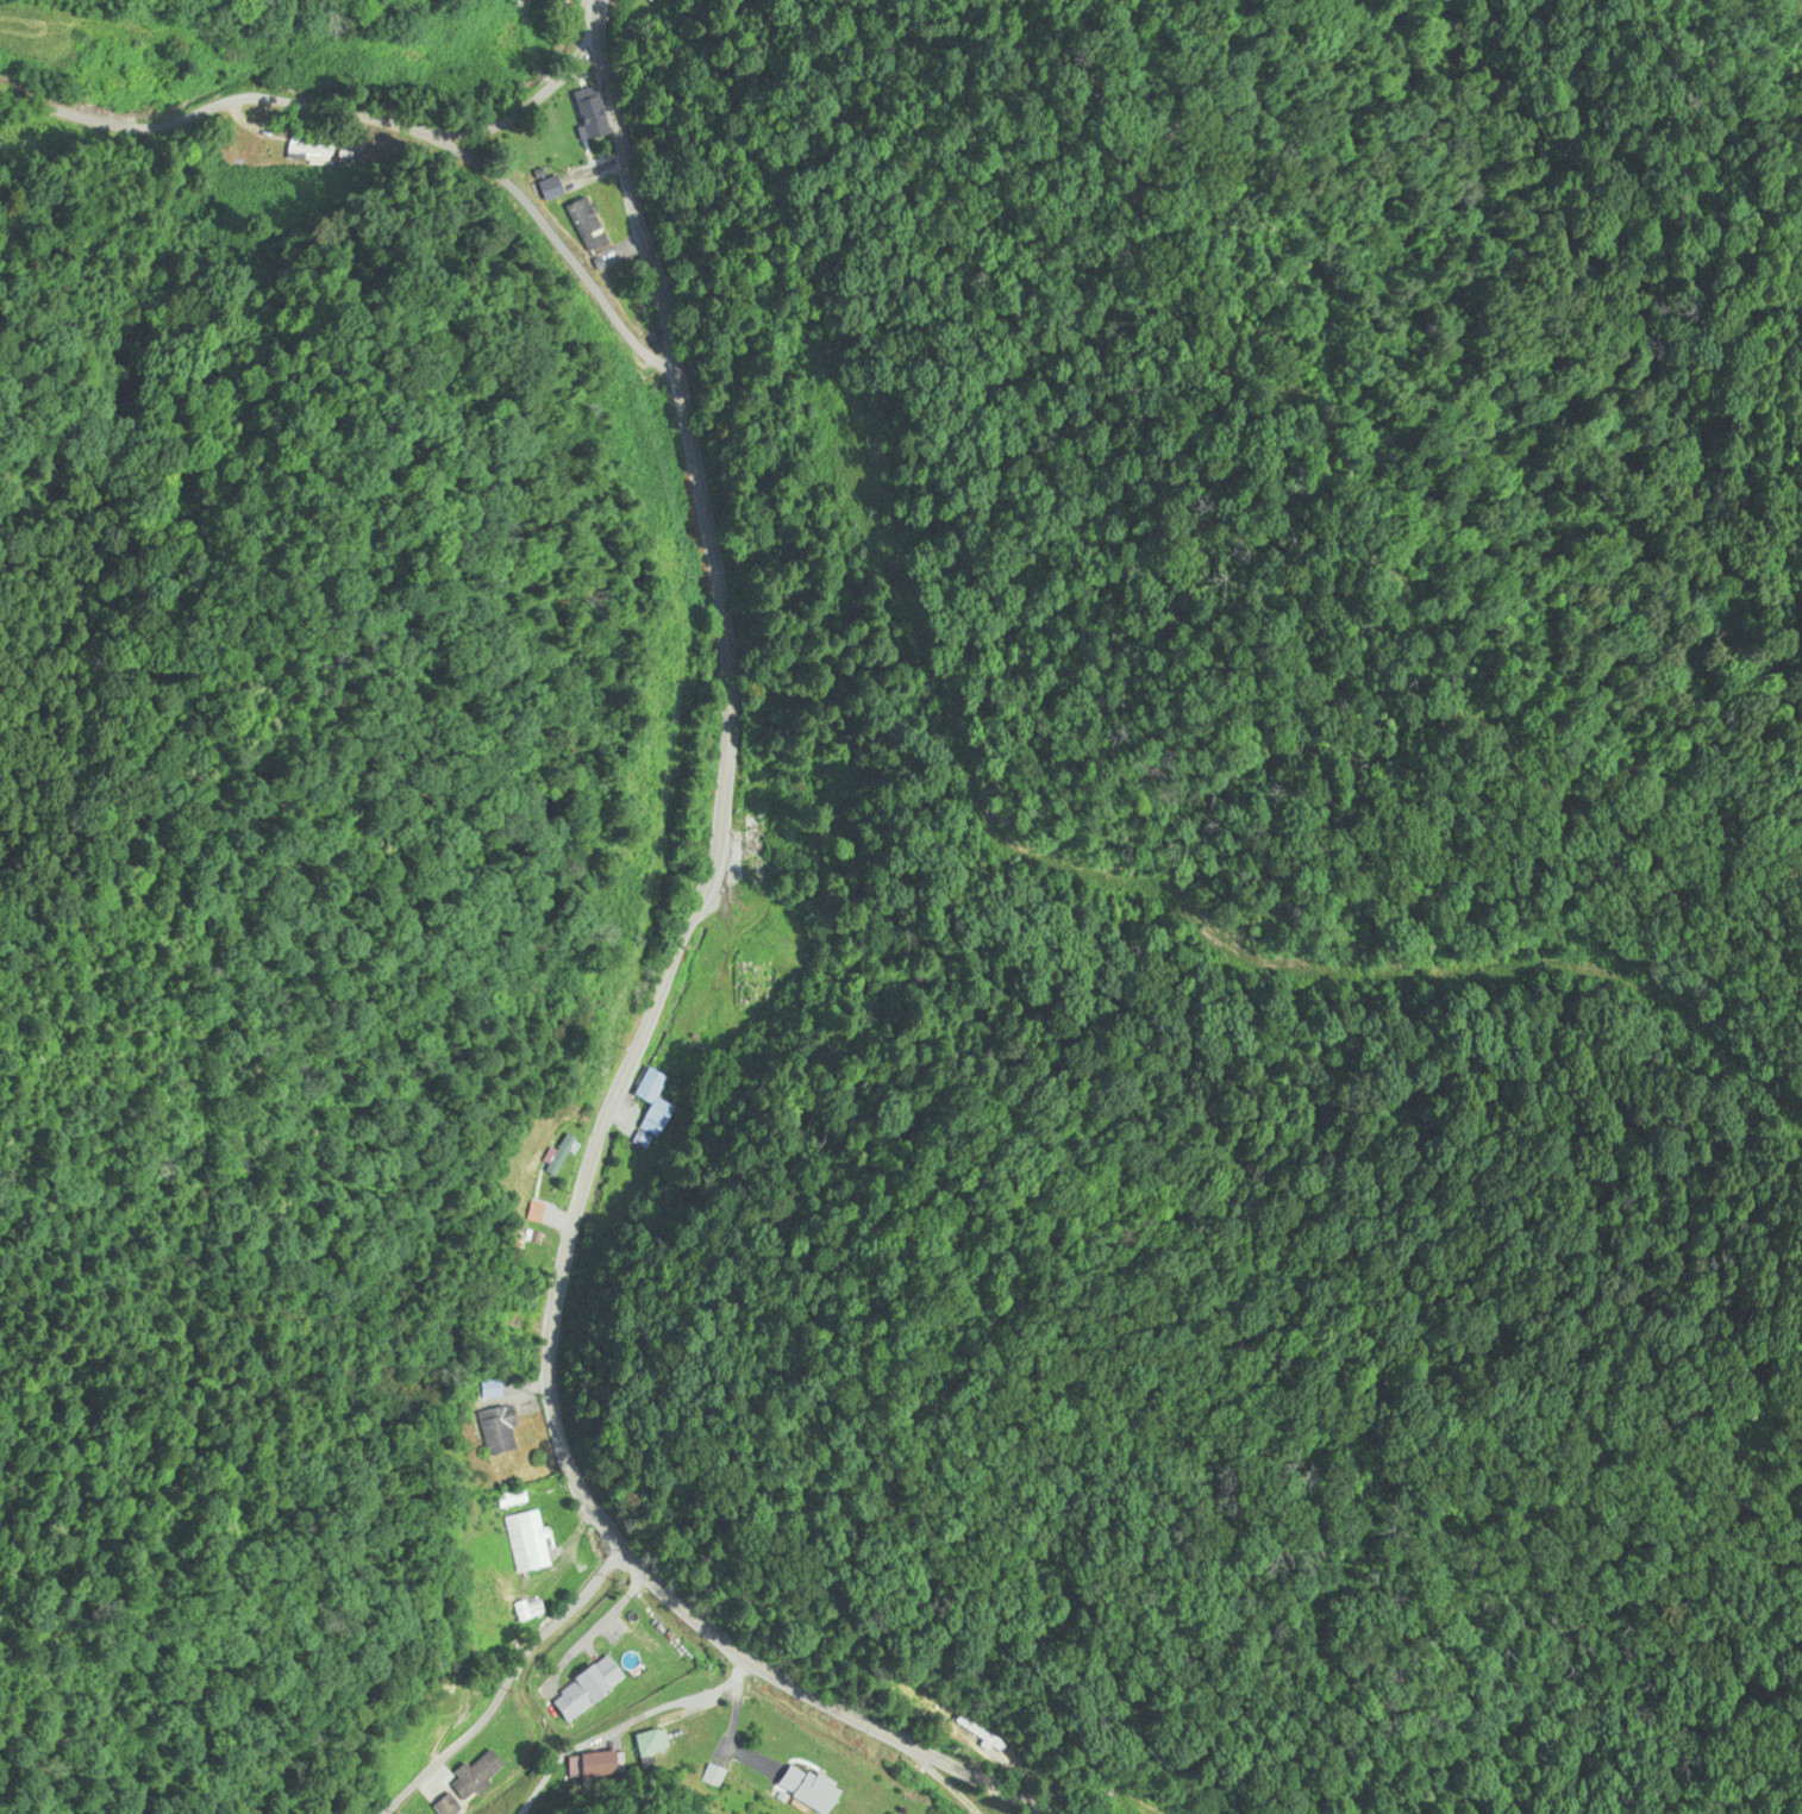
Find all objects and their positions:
building: (587, 113)
road: (305, 119)
building: (546, 189)
building: (582, 224)
road: (339, 620)
building: (767, 788)
building: (755, 865)
building: (755, 986)
road: (643, 1032)
building: (655, 1105)
building: (555, 1156)
building: (525, 1358)
building: (494, 1431)
building: (508, 1500)
building: (523, 1543)
building: (523, 1612)
road: (493, 1683)
building: (583, 1689)
building: (651, 1744)
building: (478, 1775)
building: (803, 1789)
building: (1139, 1810)

